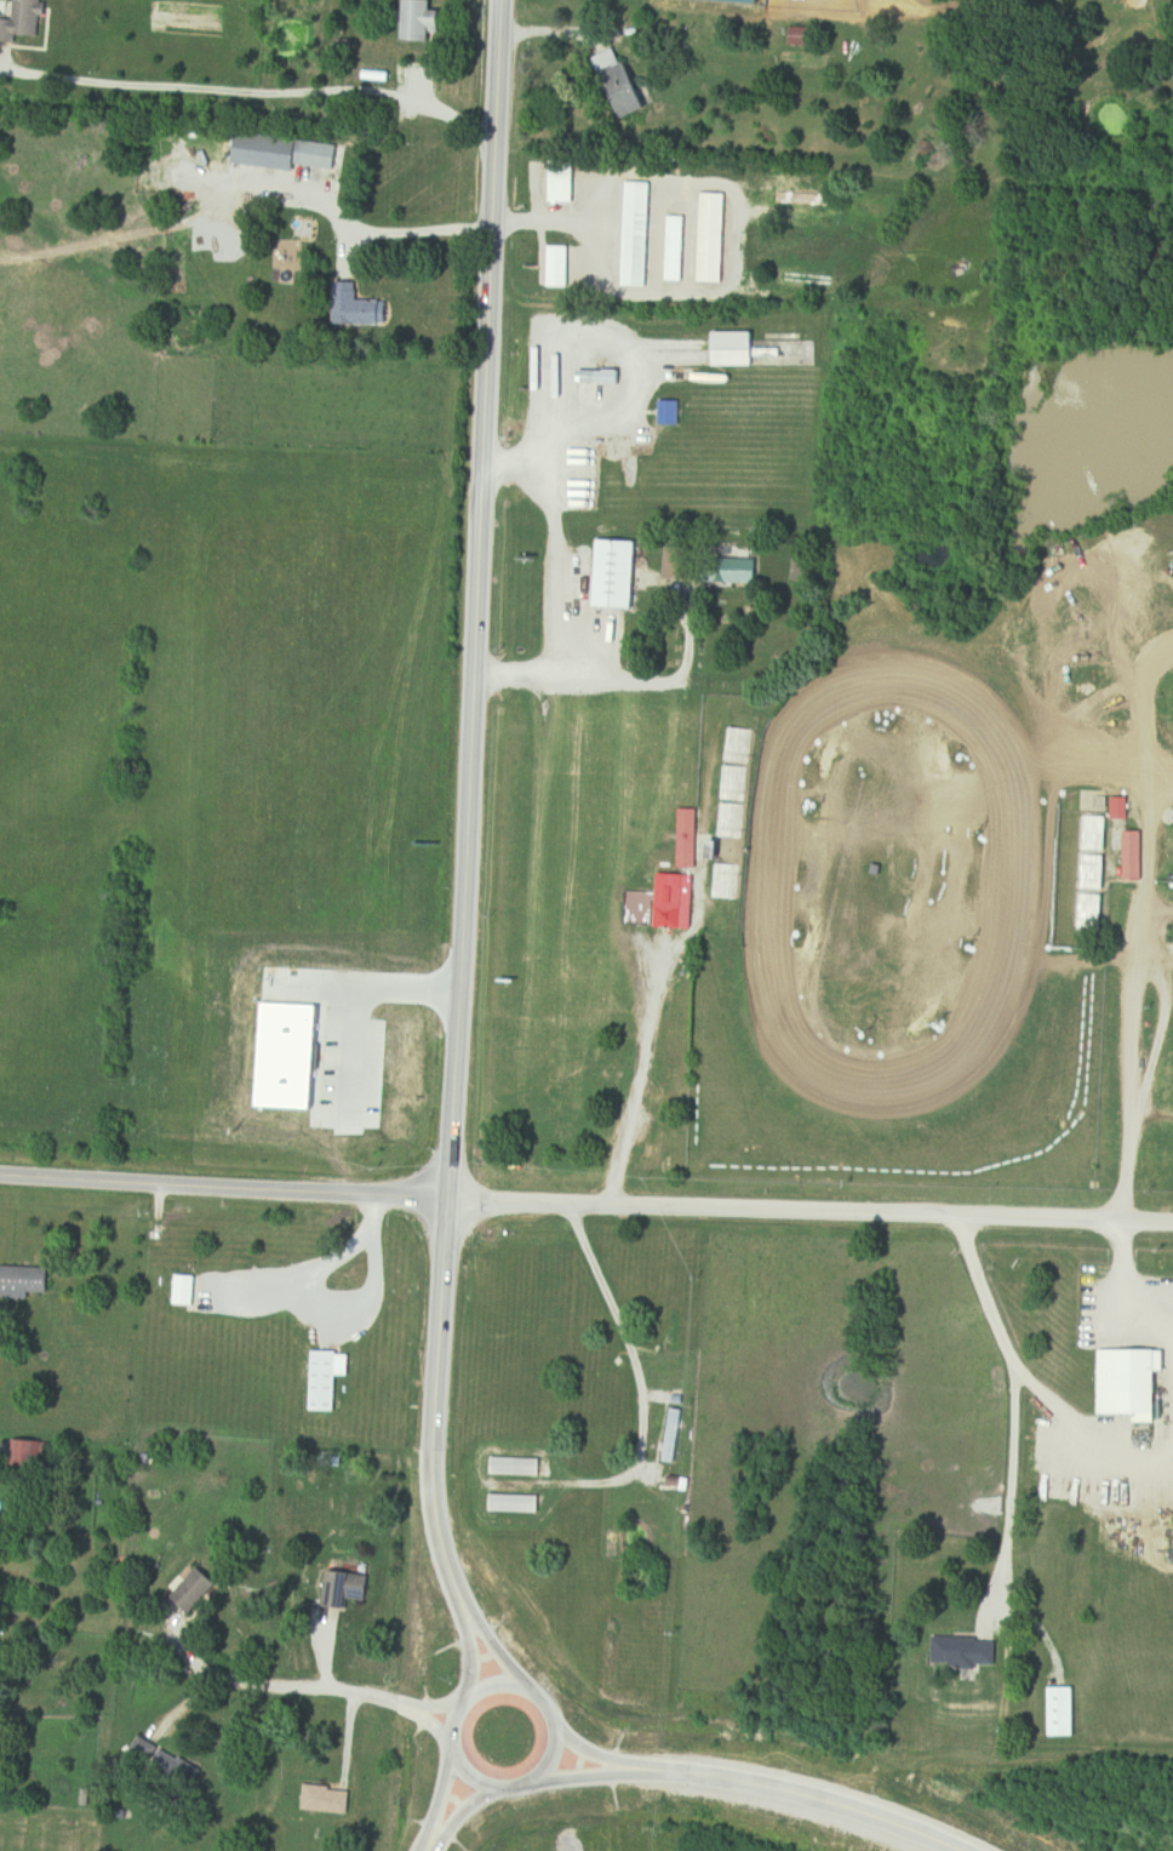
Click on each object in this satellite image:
building: (419, 21)
building: (24, 22)
building: (806, 38)
building: (623, 84)
road: (253, 88)
building: (316, 156)
building: (562, 183)
building: (639, 234)
building: (715, 238)
building: (679, 248)
building: (560, 267)
building: (808, 279)
building: (359, 307)
building: (737, 349)
road: (634, 367)
building: (670, 413)
building: (706, 565)
building: (617, 575)
road: (549, 611)
road: (665, 682)
building: (1085, 687)
road: (1145, 719)
road: (454, 807)
building: (691, 838)
building: (1134, 855)
building: (671, 901)
road: (1140, 930)
raceway: (988, 996)
road: (645, 1087)
road: (217, 1189)
road: (803, 1213)
road: (311, 1273)
building: (27, 1281)
road: (1132, 1289)
building: (187, 1290)
road: (360, 1298)
building: (676, 1332)
road: (635, 1372)
building: (328, 1378)
building: (1133, 1382)
road: (1087, 1429)
building: (674, 1444)
building: (516, 1467)
road: (1009, 1484)
building: (515, 1504)
building: (349, 1589)
building: (200, 1590)
road: (485, 1650)
building: (967, 1651)
road: (459, 1652)
road: (263, 1687)
road: (479, 1689)
road: (414, 1707)
road: (407, 1720)
road: (583, 1755)
road: (573, 1778)
road: (430, 1792)
road: (784, 1793)
building: (327, 1799)
building: (542, 1799)
road: (456, 1807)
building: (1082, 1834)
road: (424, 1843)

